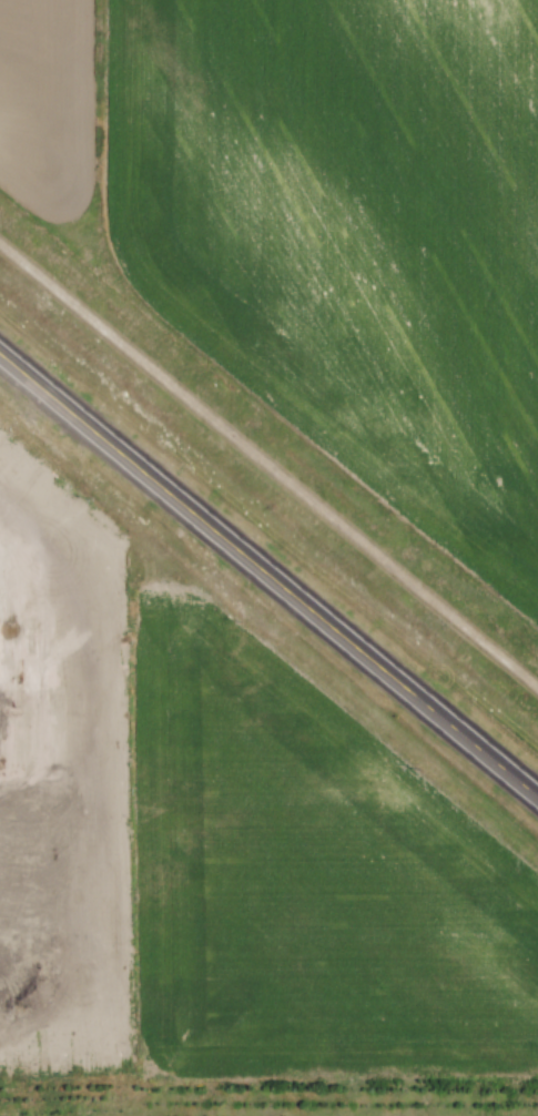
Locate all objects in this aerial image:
road: (267, 459)
road: (268, 571)

